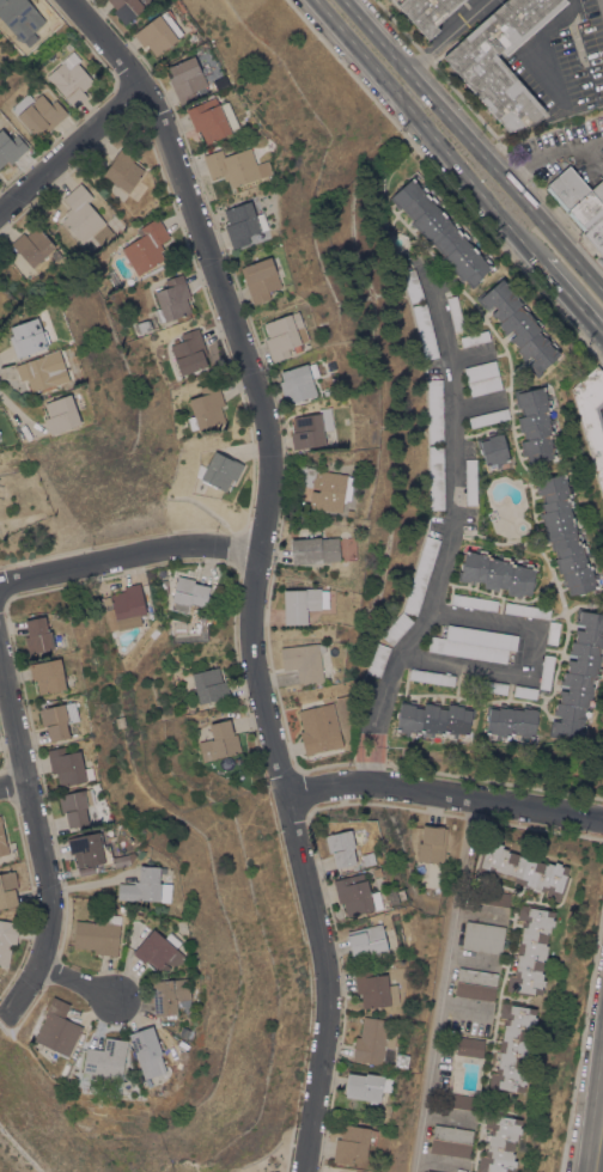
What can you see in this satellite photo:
road: (602, 1)
building: (126, 8)
building: (428, 13)
building: (20, 18)
building: (158, 32)
road: (446, 36)
road: (528, 49)
building: (69, 79)
building: (185, 79)
building: (494, 84)
building: (38, 112)
building: (212, 118)
road: (425, 128)
road: (71, 144)
road: (473, 145)
building: (10, 147)
road: (552, 155)
building: (236, 166)
building: (123, 170)
building: (578, 197)
building: (81, 213)
building: (243, 222)
building: (440, 232)
building: (596, 236)
building: (32, 245)
building: (146, 246)
building: (56, 255)
building: (260, 279)
building: (412, 286)
road: (571, 287)
building: (172, 298)
building: (455, 312)
building: (142, 324)
building: (519, 325)
building: (425, 330)
building: (285, 335)
building: (28, 337)
building: (475, 338)
building: (189, 352)
road: (469, 354)
building: (43, 371)
building: (482, 377)
building: (298, 383)
building: (327, 392)
road: (474, 403)
building: (206, 407)
building: (434, 410)
building: (61, 414)
building: (591, 416)
building: (488, 417)
building: (535, 423)
building: (310, 428)
building: (493, 448)
building: (220, 471)
building: (435, 476)
building: (470, 481)
building: (325, 487)
building: (349, 513)
road: (451, 514)
building: (564, 532)
building: (315, 550)
road: (128, 555)
road: (256, 566)
building: (497, 573)
building: (421, 575)
building: (162, 586)
building: (188, 593)
building: (474, 602)
building: (303, 603)
building: (128, 605)
building: (526, 610)
building: (203, 615)
building: (114, 619)
building: (396, 628)
building: (552, 631)
building: (41, 636)
building: (474, 643)
building: (378, 659)
road: (529, 660)
building: (304, 661)
building: (546, 671)
building: (47, 674)
building: (579, 676)
building: (432, 677)
building: (209, 685)
building: (485, 685)
building: (524, 691)
building: (434, 718)
building: (57, 719)
building: (511, 720)
building: (317, 731)
building: (219, 740)
road: (366, 764)
building: (68, 765)
road: (12, 781)
road: (444, 793)
building: (75, 806)
building: (2, 840)
building: (432, 843)
road: (38, 844)
building: (340, 847)
building: (90, 849)
building: (367, 857)
building: (121, 860)
building: (85, 869)
building: (525, 869)
building: (146, 885)
building: (7, 889)
building: (400, 893)
building: (355, 895)
building: (488, 897)
building: (98, 934)
building: (482, 936)
building: (7, 939)
building: (366, 939)
building: (156, 948)
building: (530, 950)
building: (475, 983)
road: (86, 984)
road: (443, 984)
building: (374, 988)
building: (169, 995)
building: (57, 1028)
building: (373, 1042)
building: (470, 1046)
building: (512, 1048)
building: (146, 1050)
building: (105, 1061)
building: (72, 1079)
building: (366, 1086)
building: (456, 1100)
road: (445, 1116)
building: (451, 1141)
building: (499, 1142)
building: (352, 1143)
road: (599, 1153)
road: (439, 1161)
building: (428, 1171)

